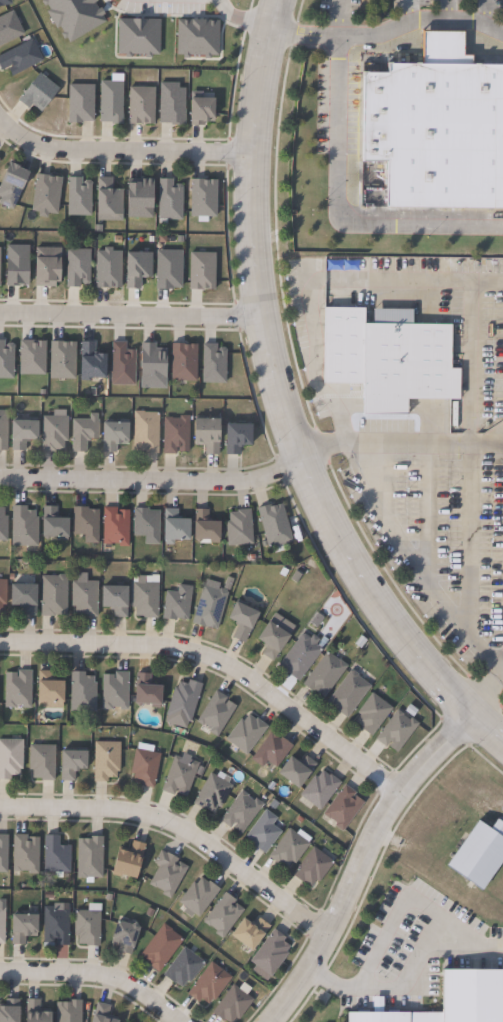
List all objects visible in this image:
building: (4, 2)
road: (445, 10)
road: (407, 12)
road: (482, 13)
road: (240, 19)
building: (9, 28)
road: (387, 31)
building: (20, 58)
building: (38, 93)
building: (111, 102)
building: (81, 104)
building: (172, 104)
building: (141, 106)
building: (202, 111)
building: (438, 129)
road: (120, 151)
building: (12, 186)
road: (335, 193)
building: (46, 195)
building: (78, 197)
building: (108, 198)
building: (140, 199)
building: (203, 199)
building: (170, 201)
building: (17, 266)
building: (47, 267)
building: (77, 268)
building: (108, 269)
building: (137, 270)
building: (168, 270)
building: (202, 272)
road: (309, 289)
road: (127, 316)
building: (31, 356)
building: (387, 356)
building: (6, 359)
building: (62, 359)
building: (91, 361)
building: (152, 361)
building: (184, 361)
building: (213, 363)
building: (122, 364)
road: (279, 403)
building: (3, 429)
building: (83, 431)
building: (145, 431)
building: (22, 432)
building: (53, 432)
building: (207, 433)
building: (114, 434)
building: (175, 434)
building: (237, 436)
road: (466, 439)
road: (418, 442)
road: (317, 455)
road: (151, 480)
road: (425, 511)
building: (53, 523)
building: (86, 523)
building: (146, 524)
building: (274, 524)
building: (3, 525)
building: (115, 526)
building: (175, 526)
building: (205, 526)
building: (24, 527)
building: (239, 527)
road: (411, 559)
building: (2, 594)
building: (53, 595)
building: (24, 597)
building: (84, 597)
building: (145, 597)
building: (115, 599)
building: (177, 603)
building: (210, 607)
building: (243, 620)
building: (273, 640)
building: (301, 656)
road: (497, 658)
road: (217, 662)
road: (498, 671)
building: (325, 674)
building: (49, 688)
building: (18, 690)
building: (114, 691)
building: (147, 691)
building: (83, 692)
building: (348, 693)
road: (481, 694)
building: (183, 701)
building: (216, 713)
building: (373, 714)
building: (397, 731)
building: (246, 733)
building: (271, 750)
building: (10, 758)
building: (106, 760)
building: (42, 761)
building: (72, 763)
building: (145, 765)
building: (297, 770)
building: (179, 776)
building: (320, 789)
building: (213, 791)
building: (343, 808)
building: (241, 812)
road: (175, 829)
building: (263, 832)
building: (290, 848)
building: (3, 853)
building: (25, 854)
building: (56, 855)
building: (482, 856)
building: (89, 858)
road: (354, 858)
building: (129, 860)
building: (313, 867)
building: (168, 874)
building: (198, 896)
building: (223, 915)
building: (2, 925)
building: (55, 926)
building: (87, 927)
building: (23, 928)
building: (250, 933)
building: (124, 937)
building: (161, 948)
building: (270, 955)
building: (183, 968)
road: (94, 974)
road: (405, 977)
building: (209, 984)
building: (456, 1001)
building: (232, 1005)
building: (10, 1011)
building: (68, 1011)
building: (36, 1012)
building: (102, 1014)

